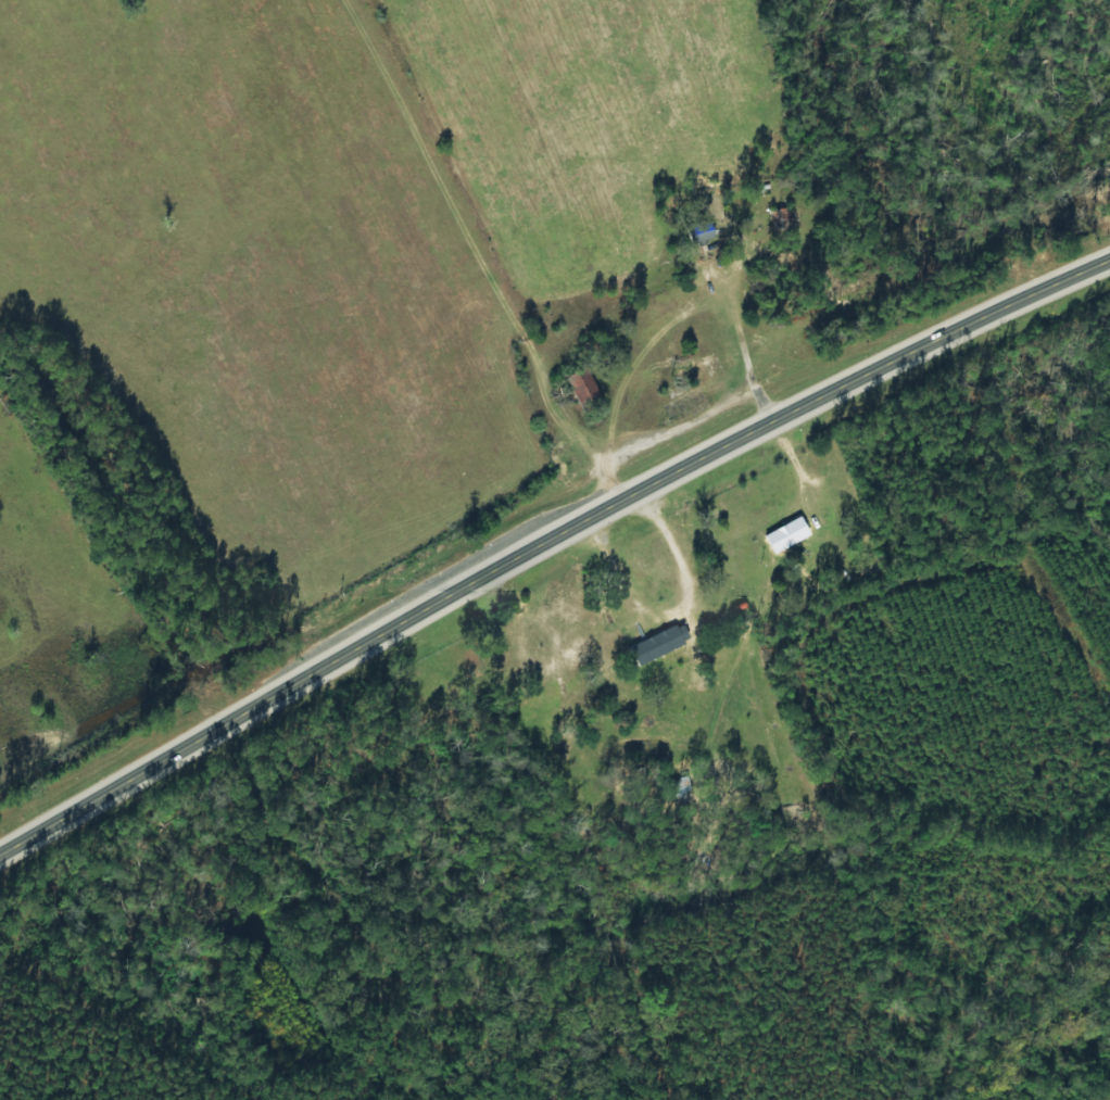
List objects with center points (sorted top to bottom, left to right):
road: (408, 281)
road: (544, 546)
building: (660, 643)
park: (445, 691)

